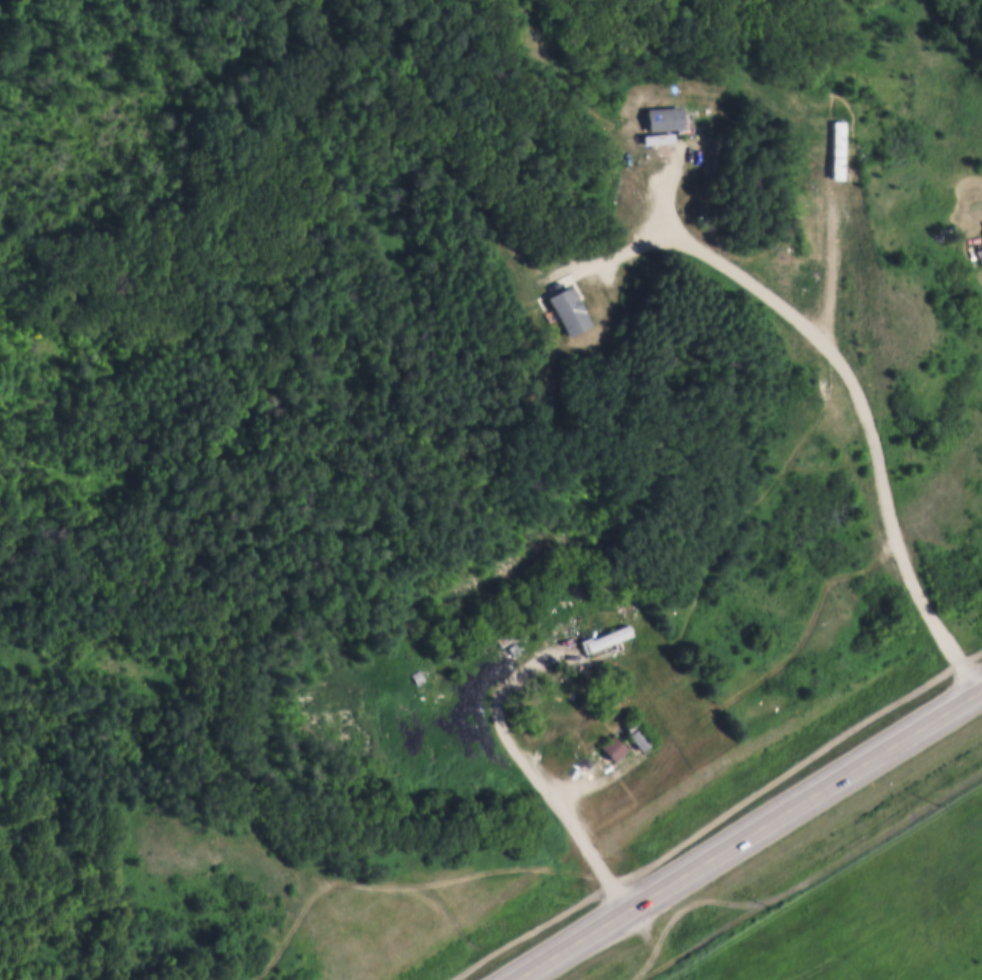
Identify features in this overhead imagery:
building: (663, 116)
building: (835, 141)
road: (662, 218)
building: (979, 252)
building: (568, 308)
road: (797, 314)
building: (516, 624)
building: (604, 636)
building: (507, 638)
building: (512, 647)
building: (416, 675)
building: (635, 733)
building: (610, 746)
road: (554, 793)
road: (745, 833)
road: (804, 876)
road: (644, 930)

